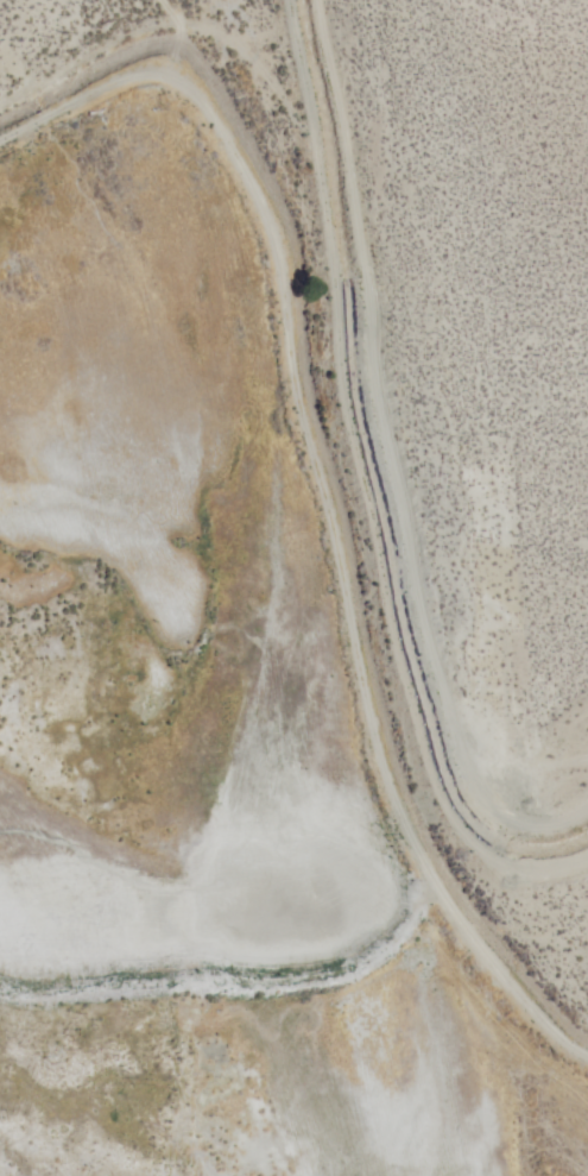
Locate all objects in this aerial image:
road: (394, 460)
road: (360, 492)
road: (316, 496)

